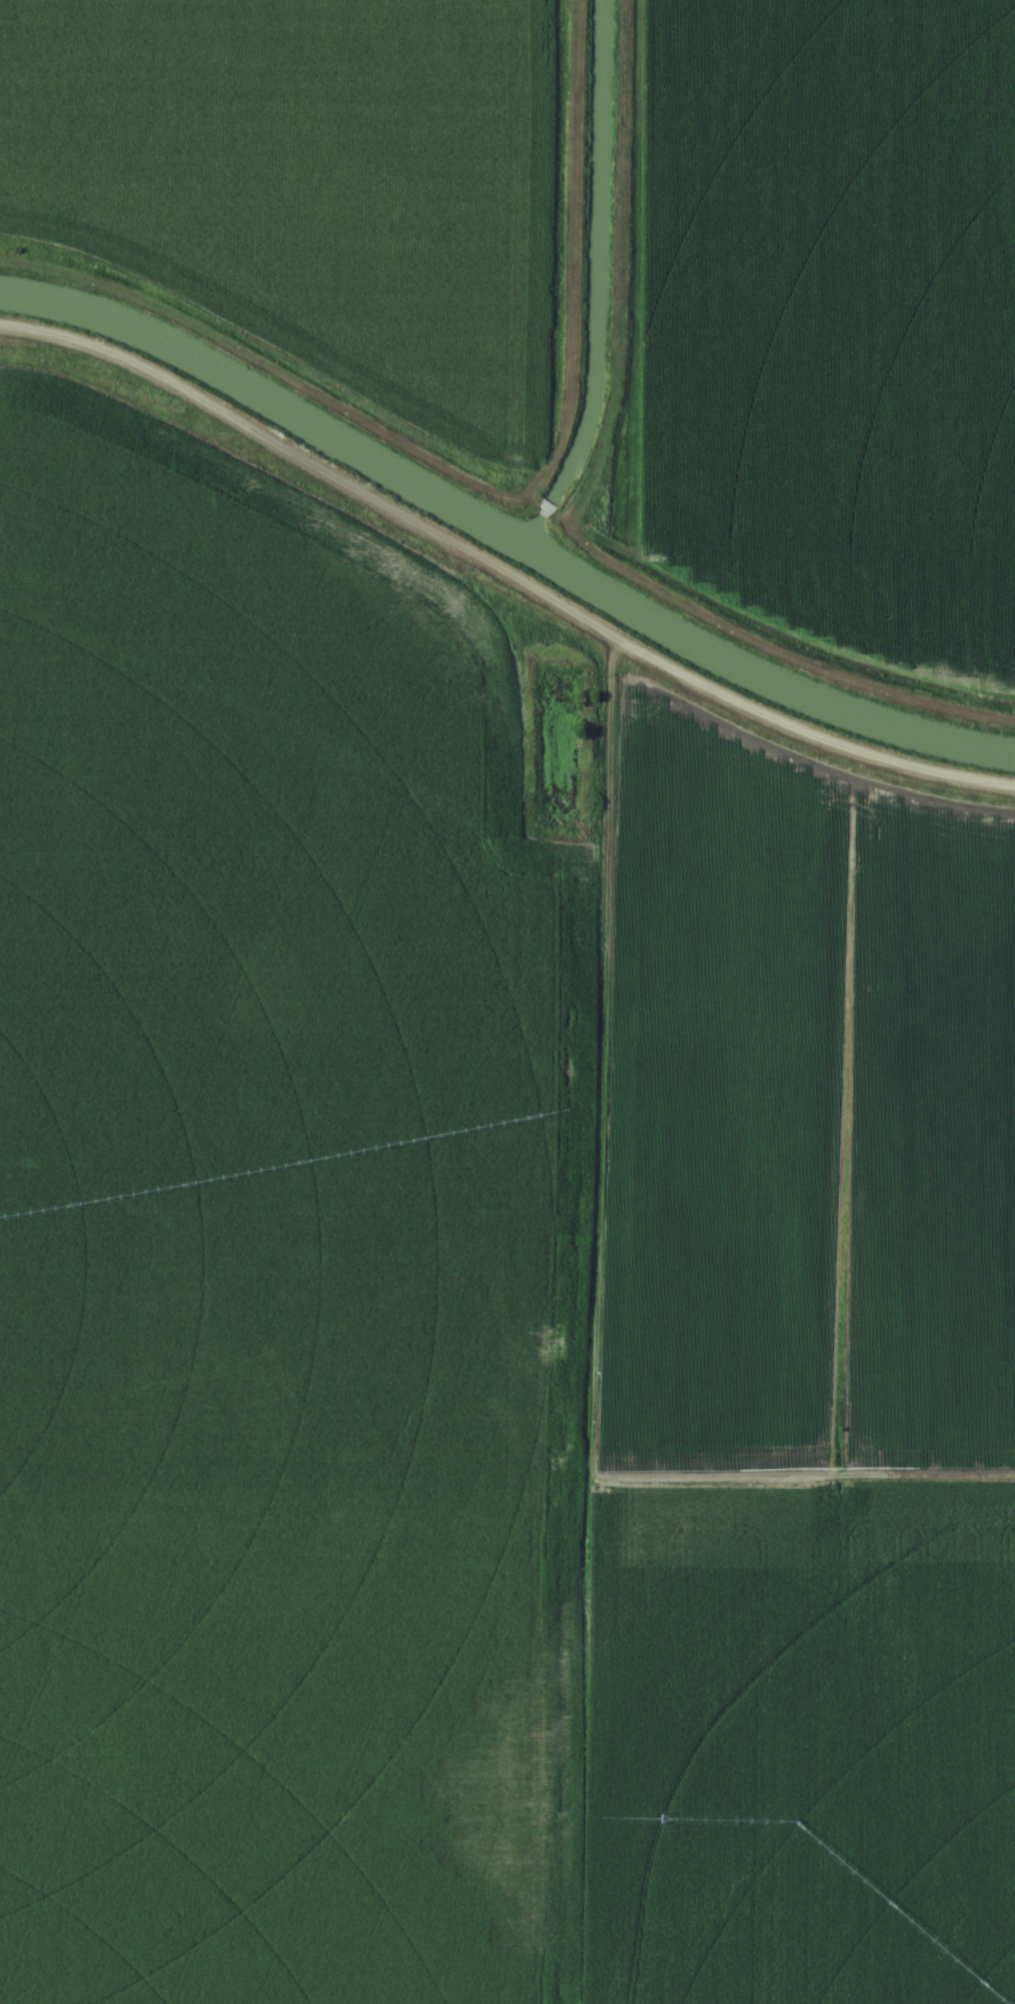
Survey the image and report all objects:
road: (500, 573)

